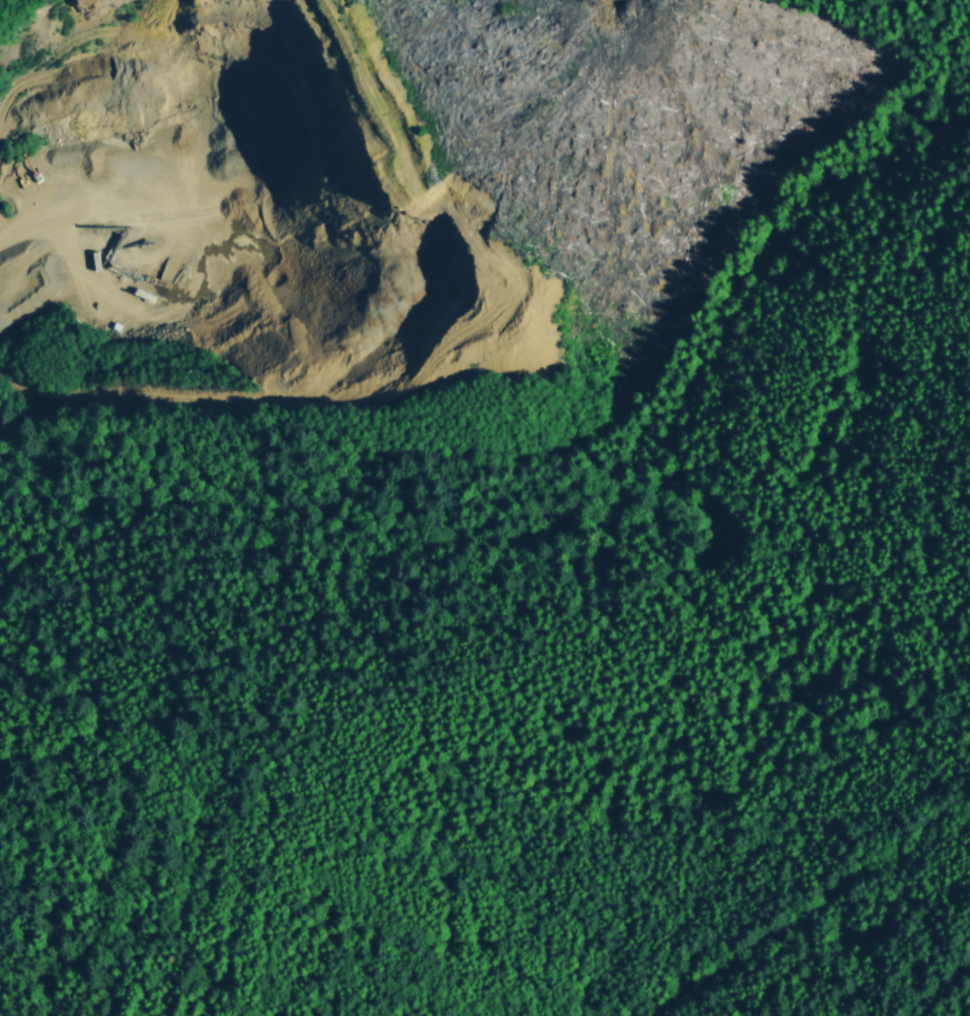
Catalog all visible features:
road: (209, 209)
quarry: (235, 219)
road: (25, 224)
road: (806, 902)
road: (939, 990)

